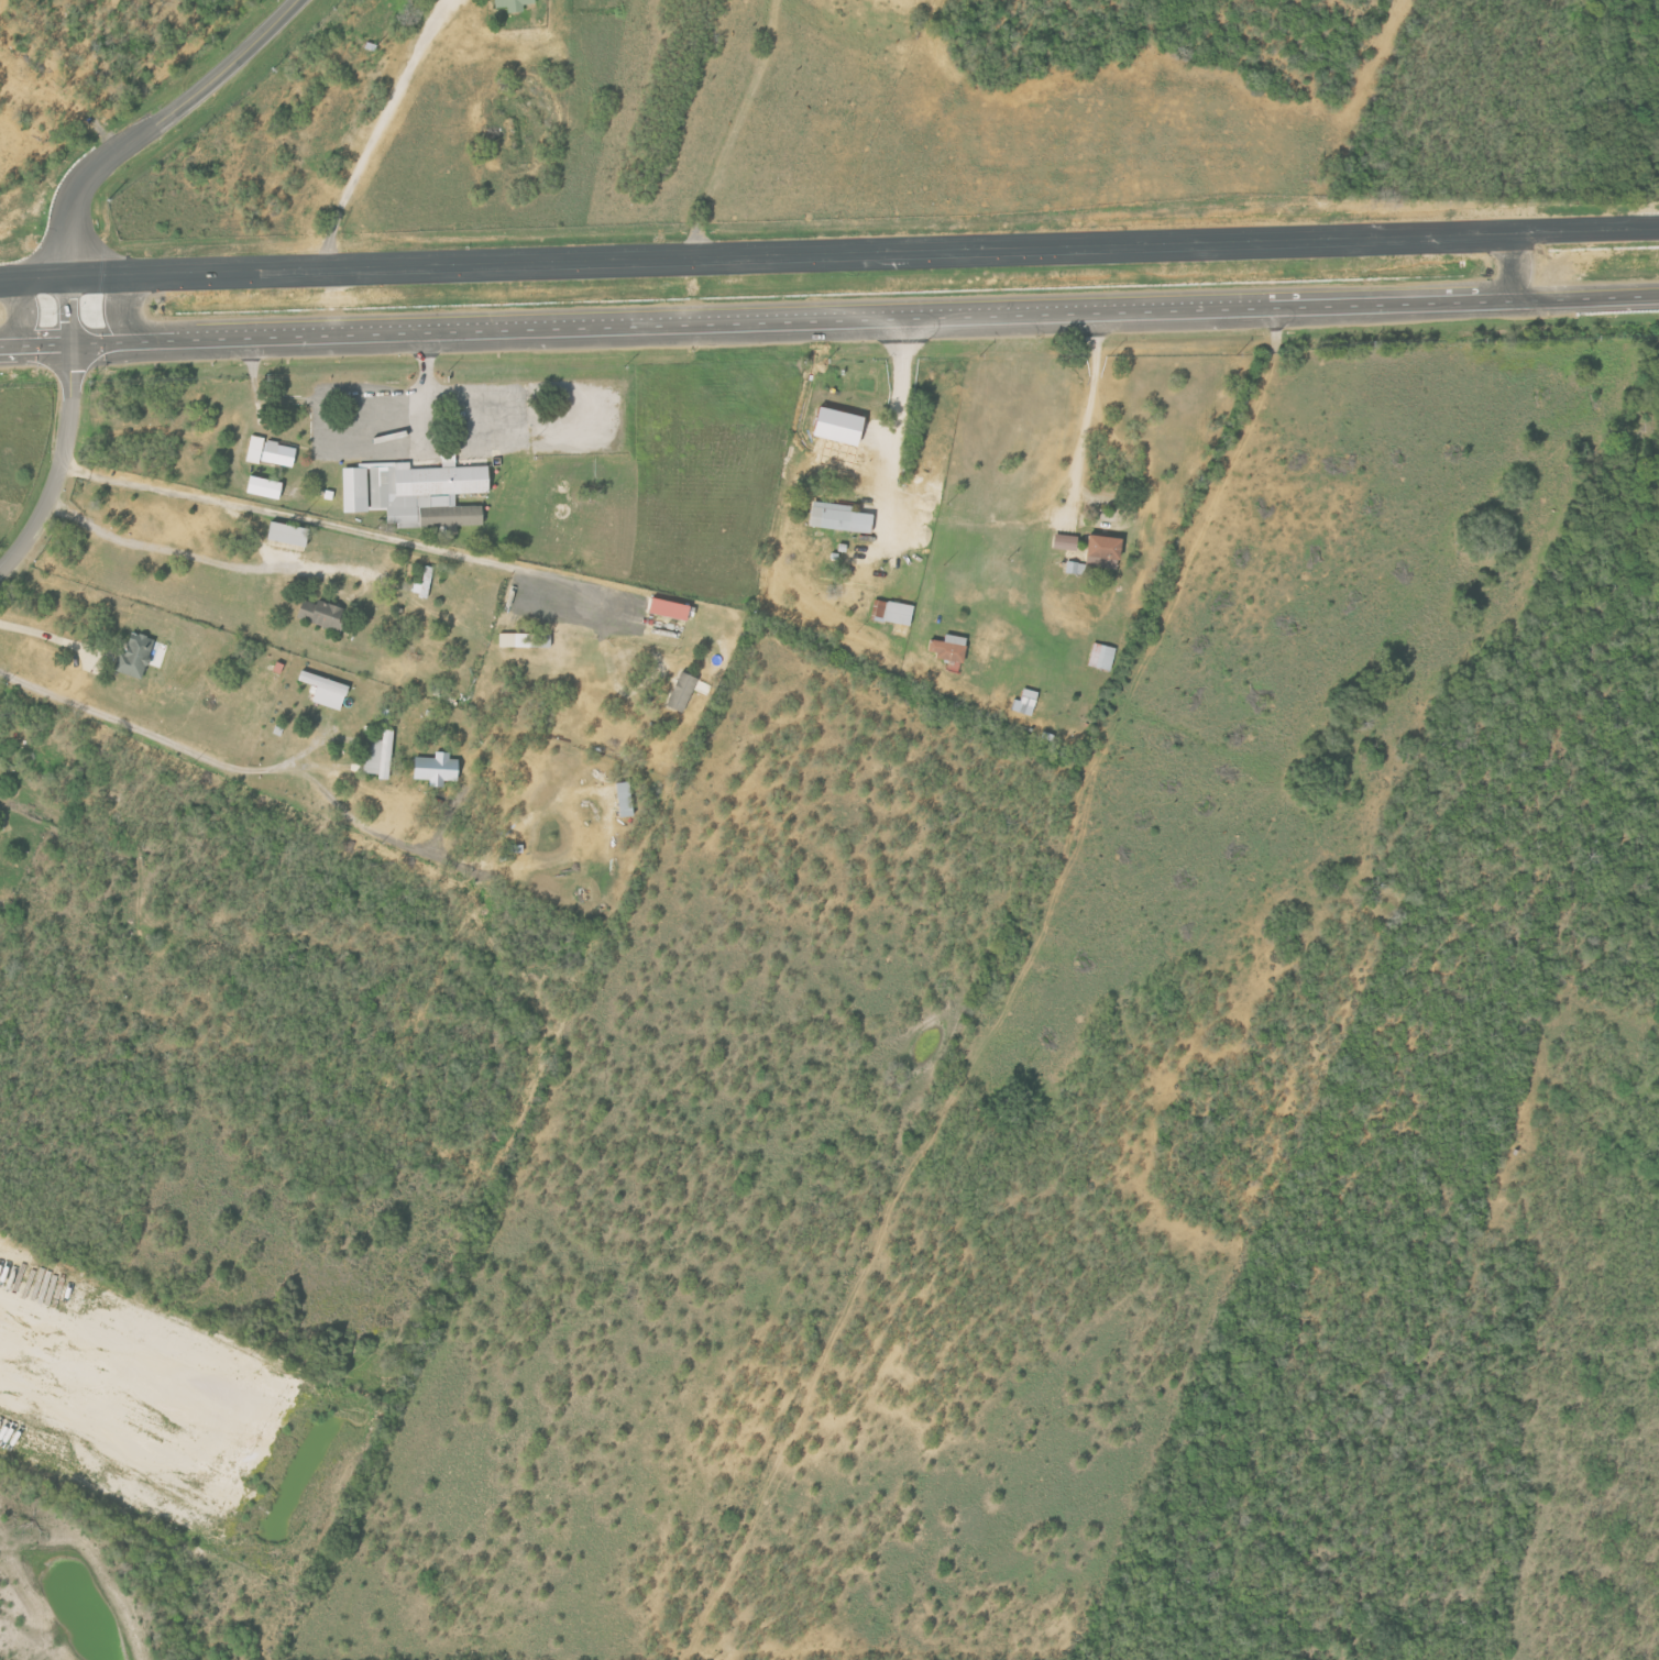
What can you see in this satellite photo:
building: (515, 4)
road: (733, 129)
road: (377, 132)
road: (130, 146)
road: (828, 254)
road: (1507, 266)
road: (1583, 297)
road: (1388, 304)
road: (127, 308)
road: (26, 312)
road: (706, 322)
road: (80, 342)
road: (8, 345)
road: (52, 361)
road: (425, 394)
road: (1086, 413)
road: (898, 417)
building: (842, 426)
building: (273, 452)
road: (62, 466)
building: (266, 487)
building: (416, 493)
building: (842, 517)
road: (339, 528)
building: (292, 534)
building: (1067, 541)
road: (172, 548)
building: (1107, 551)
building: (425, 583)
building: (673, 609)
building: (893, 612)
building: (325, 614)
building: (516, 639)
building: (952, 648)
building: (1102, 656)
building: (139, 657)
building: (328, 690)
building: (683, 692)
building: (1026, 703)
road: (158, 739)
building: (381, 756)
building: (439, 769)
building: (626, 799)

